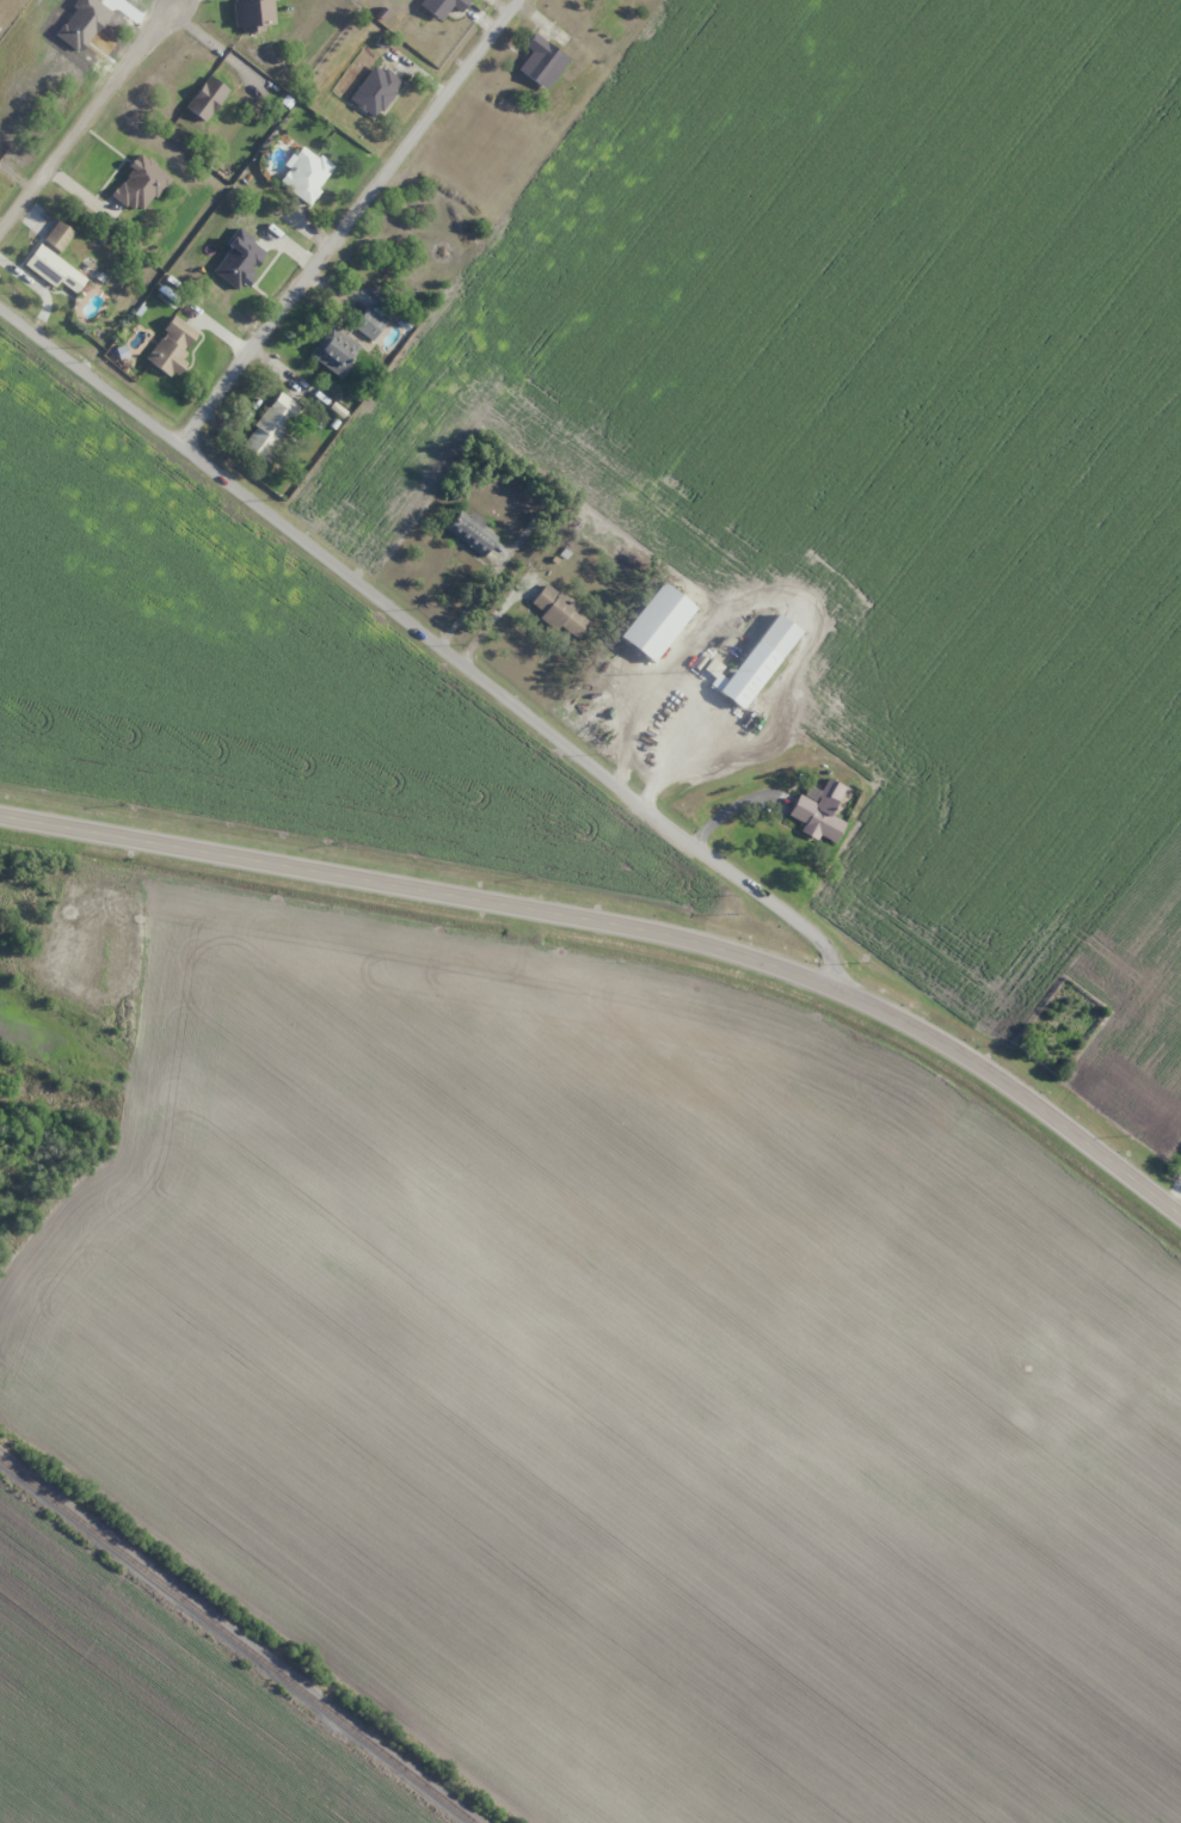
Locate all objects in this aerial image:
building: (442, 6)
building: (542, 62)
building: (375, 91)
road: (91, 122)
building: (306, 174)
building: (19, 220)
road: (353, 225)
building: (55, 270)
building: (368, 325)
building: (171, 346)
building: (334, 350)
building: (271, 426)
building: (472, 533)
building: (560, 613)
building: (656, 622)
road: (425, 630)
building: (757, 661)
building: (819, 814)
road: (626, 932)
crop: (619, 1374)
railway: (235, 1640)
crop: (141, 1717)

